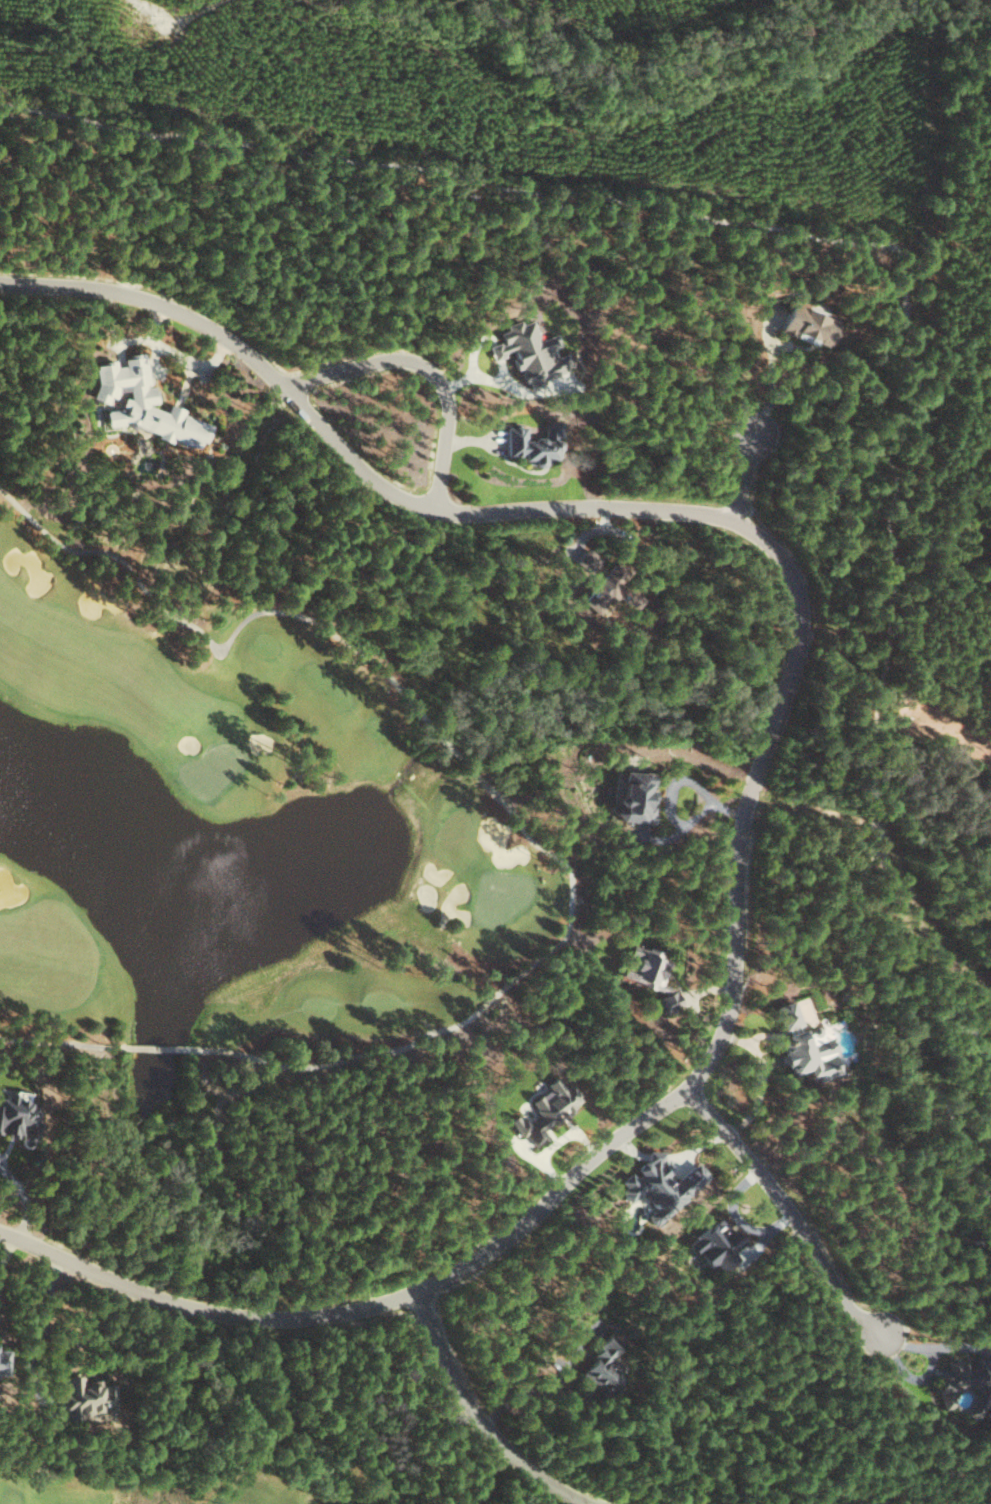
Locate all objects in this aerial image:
building: (810, 323)
road: (426, 367)
building: (143, 403)
building: (535, 444)
road: (746, 479)
road: (716, 516)
building: (587, 561)
building: (606, 588)
building: (635, 797)
park: (247, 834)
building: (649, 974)
building: (805, 1042)
building: (545, 1110)
building: (18, 1117)
building: (661, 1184)
road: (789, 1211)
building: (716, 1243)
road: (295, 1318)
road: (938, 1347)
building: (2, 1361)
building: (604, 1367)
road: (911, 1377)
building: (962, 1378)
building: (85, 1396)
road: (476, 1417)
park: (155, 1481)

